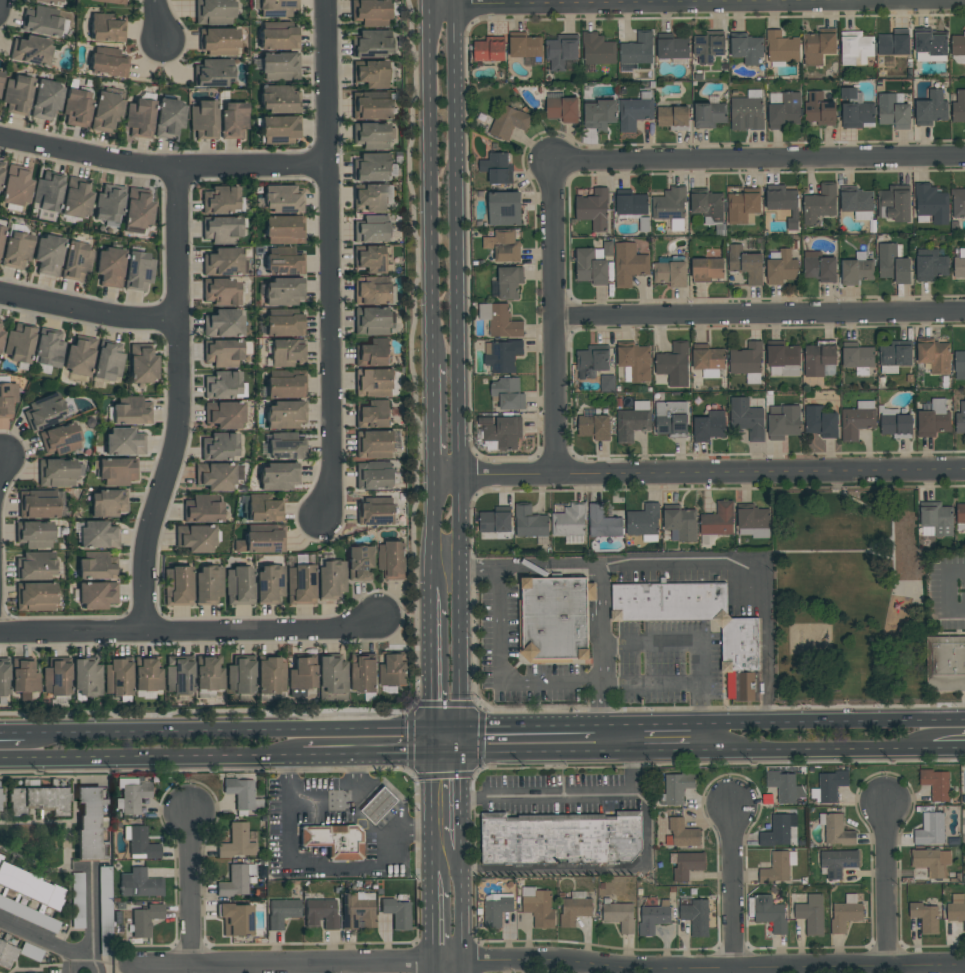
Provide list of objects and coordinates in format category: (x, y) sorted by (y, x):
building: (109, 1)
building: (50, 2)
road: (430, 3)
road: (697, 4)
building: (277, 8)
building: (213, 11)
building: (370, 12)
road: (158, 21)
building: (42, 22)
building: (105, 28)
building: (278, 39)
building: (218, 41)
building: (371, 43)
building: (894, 43)
building: (931, 43)
building: (818, 46)
building: (525, 47)
building: (708, 47)
building: (672, 48)
building: (747, 48)
building: (781, 48)
building: (855, 48)
building: (489, 49)
building: (958, 49)
building: (30, 50)
building: (598, 50)
building: (561, 51)
building: (636, 52)
building: (108, 65)
building: (278, 67)
building: (213, 73)
building: (370, 73)
building: (0, 78)
building: (17, 94)
building: (277, 99)
building: (46, 100)
building: (76, 107)
building: (959, 107)
building: (371, 109)
building: (562, 109)
building: (819, 109)
building: (855, 109)
building: (931, 109)
building: (784, 110)
building: (893, 111)
building: (106, 112)
building: (747, 112)
building: (634, 113)
building: (599, 115)
building: (709, 115)
building: (672, 116)
building: (169, 118)
building: (139, 119)
building: (203, 119)
building: (233, 120)
building: (508, 122)
building: (278, 129)
building: (371, 136)
road: (756, 159)
road: (161, 167)
building: (372, 167)
building: (497, 168)
road: (432, 183)
building: (16, 186)
building: (47, 191)
building: (76, 198)
building: (370, 198)
building: (281, 199)
building: (219, 200)
building: (108, 203)
building: (897, 203)
building: (958, 203)
building: (632, 204)
building: (784, 204)
building: (857, 204)
building: (819, 205)
building: (743, 206)
building: (931, 206)
building: (708, 207)
building: (670, 208)
building: (138, 209)
building: (504, 209)
building: (593, 209)
building: (221, 229)
building: (283, 230)
building: (373, 230)
building: (1, 233)
building: (503, 246)
building: (16, 251)
building: (47, 255)
road: (326, 257)
building: (372, 259)
building: (77, 261)
building: (223, 262)
building: (284, 262)
building: (629, 264)
building: (745, 264)
building: (893, 264)
building: (930, 265)
building: (959, 266)
building: (109, 267)
building: (819, 267)
building: (590, 268)
building: (782, 268)
building: (707, 269)
building: (138, 271)
building: (855, 271)
building: (670, 274)
building: (509, 282)
building: (220, 291)
building: (283, 291)
building: (373, 291)
road: (90, 309)
road: (553, 317)
road: (759, 317)
building: (500, 320)
building: (372, 321)
building: (223, 324)
building: (284, 326)
building: (0, 338)
building: (19, 343)
building: (48, 348)
building: (222, 353)
building: (286, 353)
building: (372, 353)
building: (79, 356)
building: (503, 356)
building: (857, 356)
building: (894, 356)
building: (934, 356)
building: (708, 358)
building: (819, 358)
building: (593, 359)
building: (108, 361)
building: (783, 361)
building: (959, 361)
building: (747, 362)
building: (634, 363)
building: (142, 364)
building: (674, 365)
road: (459, 369)
building: (374, 383)
building: (607, 383)
building: (222, 385)
building: (284, 387)
building: (508, 394)
building: (7, 398)
road: (179, 403)
building: (130, 411)
building: (43, 412)
building: (223, 415)
building: (284, 415)
building: (373, 415)
road: (435, 418)
building: (671, 418)
building: (747, 418)
building: (934, 419)
building: (857, 420)
building: (960, 420)
building: (633, 422)
building: (783, 422)
building: (820, 422)
building: (895, 423)
building: (594, 427)
building: (709, 427)
building: (502, 432)
building: (59, 439)
building: (124, 442)
building: (374, 444)
building: (218, 447)
road: (1, 462)
building: (115, 471)
building: (56, 473)
building: (215, 476)
building: (278, 476)
building: (374, 476)
road: (700, 476)
road: (866, 502)
building: (106, 503)
building: (38, 504)
building: (202, 509)
building: (263, 509)
building: (375, 514)
building: (960, 514)
building: (643, 520)
building: (718, 520)
building: (935, 520)
building: (569, 521)
building: (494, 522)
building: (530, 522)
building: (603, 522)
building: (754, 522)
building: (680, 524)
building: (905, 528)
road: (436, 531)
building: (34, 534)
building: (97, 535)
building: (195, 538)
building: (260, 542)
road: (894, 544)
road: (835, 551)
road: (881, 555)
building: (392, 560)
building: (360, 564)
building: (34, 566)
building: (95, 566)
building: (910, 566)
road: (449, 568)
road: (754, 572)
building: (330, 580)
road: (602, 582)
building: (208, 584)
building: (269, 584)
building: (300, 585)
building: (177, 586)
building: (238, 586)
road: (951, 591)
building: (591, 592)
building: (920, 595)
building: (35, 596)
building: (94, 596)
park: (848, 598)
park: (849, 599)
road: (408, 615)
building: (554, 619)
road: (191, 632)
road: (670, 643)
building: (739, 651)
road: (436, 662)
building: (947, 664)
building: (393, 670)
road: (504, 671)
building: (208, 673)
building: (362, 673)
building: (146, 674)
building: (302, 674)
building: (178, 675)
building: (240, 675)
building: (269, 675)
building: (332, 675)
building: (24, 676)
building: (3, 677)
building: (56, 677)
building: (117, 677)
building: (85, 678)
road: (652, 683)
road: (699, 709)
road: (830, 721)
road: (248, 731)
road: (29, 733)
road: (670, 735)
road: (928, 735)
road: (618, 736)
road: (529, 738)
traffic signals: (437, 739)
road: (450, 739)
traffic signals: (464, 739)
road: (931, 747)
road: (796, 749)
road: (362, 752)
road: (141, 756)
building: (935, 783)
building: (830, 785)
building: (785, 786)
building: (676, 787)
building: (131, 794)
building: (241, 794)
road: (578, 795)
building: (0, 799)
building: (37, 800)
road: (345, 800)
road: (437, 804)
road: (464, 804)
building: (379, 805)
building: (87, 822)
building: (930, 829)
building: (778, 830)
building: (836, 830)
building: (681, 833)
building: (560, 838)
building: (334, 840)
building: (140, 842)
building: (236, 842)
building: (0, 855)
building: (837, 861)
building: (932, 861)
road: (326, 865)
building: (687, 865)
road: (591, 867)
building: (777, 867)
road: (450, 868)
building: (235, 880)
building: (139, 883)
road: (192, 885)
road: (885, 885)
building: (31, 886)
road: (732, 888)
building: (76, 901)
building: (538, 906)
building: (496, 908)
building: (574, 908)
building: (357, 909)
building: (956, 909)
building: (281, 912)
building: (396, 912)
building: (810, 912)
building: (105, 913)
building: (321, 913)
building: (769, 913)
building: (845, 913)
road: (436, 915)
road: (464, 915)
building: (619, 916)
building: (924, 916)
building: (653, 917)
building: (695, 917)
building: (235, 919)
building: (140, 920)
road: (87, 951)
building: (6, 954)
road: (68, 959)
road: (551, 960)
road: (97, 963)
road: (464, 966)
road: (436, 967)

